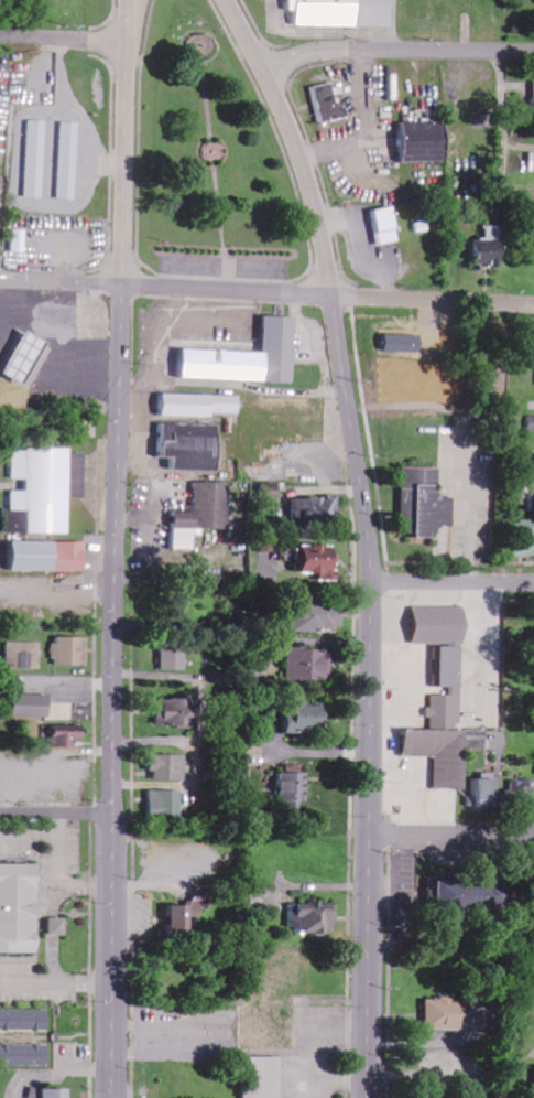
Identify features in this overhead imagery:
building: (344, 12)
road: (133, 20)
road: (64, 39)
road: (396, 51)
building: (329, 104)
building: (424, 142)
building: (35, 159)
building: (68, 161)
building: (386, 225)
building: (19, 240)
building: (490, 248)
road: (61, 281)
road: (327, 298)
building: (249, 357)
building: (25, 358)
park: (484, 359)
building: (198, 405)
building: (531, 423)
building: (193, 445)
building: (271, 491)
building: (41, 494)
building: (532, 502)
building: (424, 503)
building: (316, 509)
building: (204, 514)
road: (370, 538)
building: (523, 538)
road: (116, 548)
building: (50, 556)
building: (319, 561)
road: (454, 577)
building: (319, 615)
building: (73, 650)
building: (174, 654)
building: (25, 655)
building: (445, 658)
building: (309, 664)
building: (32, 706)
building: (177, 712)
building: (306, 719)
building: (65, 735)
building: (446, 752)
building: (170, 767)
building: (293, 790)
building: (522, 790)
building: (486, 792)
building: (164, 807)
road: (56, 812)
road: (454, 837)
building: (472, 895)
building: (19, 908)
building: (313, 918)
building: (178, 919)
building: (56, 927)
building: (447, 1013)
building: (24, 1021)
building: (23, 1055)
building: (265, 1077)
building: (55, 1094)

